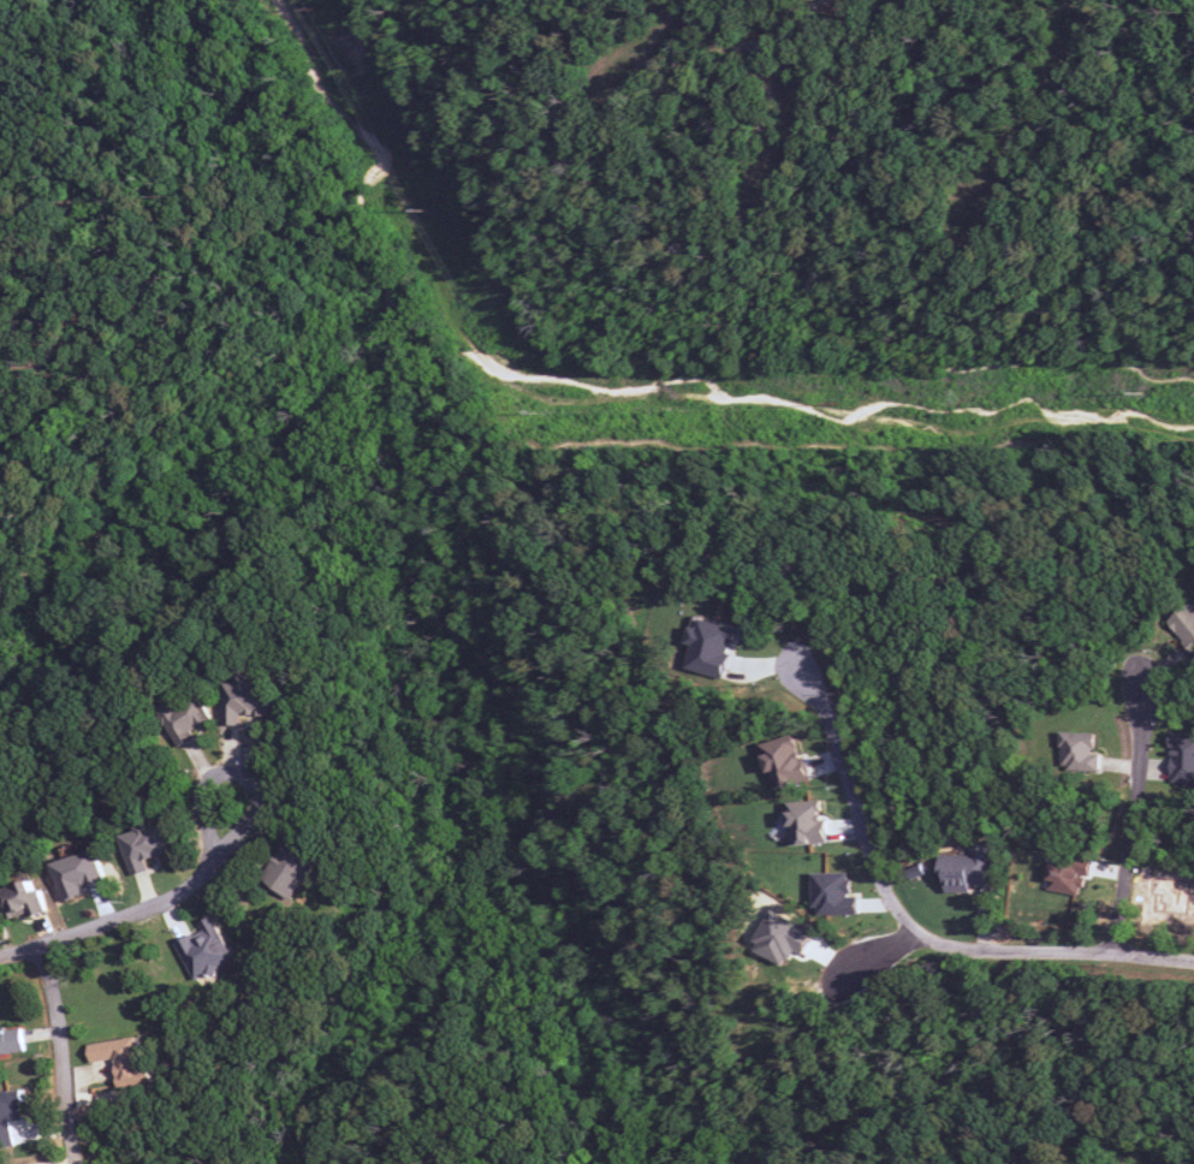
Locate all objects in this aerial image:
road: (749, 46)
road: (642, 53)
road: (1038, 109)
road: (792, 113)
road: (66, 170)
road: (4, 186)
road: (119, 316)
road: (719, 323)
road: (130, 356)
road: (434, 525)
building: (1184, 626)
road: (380, 640)
building: (708, 647)
building: (244, 700)
building: (182, 720)
building: (1077, 753)
building: (1182, 760)
building: (783, 762)
building: (806, 824)
road: (1137, 830)
building: (141, 848)
building: (967, 868)
building: (287, 872)
building: (76, 874)
building: (1068, 874)
building: (832, 895)
building: (20, 902)
road: (144, 919)
road: (913, 932)
building: (780, 939)
building: (204, 950)
road: (883, 954)
building: (11, 1041)
road: (66, 1056)
building: (123, 1059)
building: (10, 1113)

